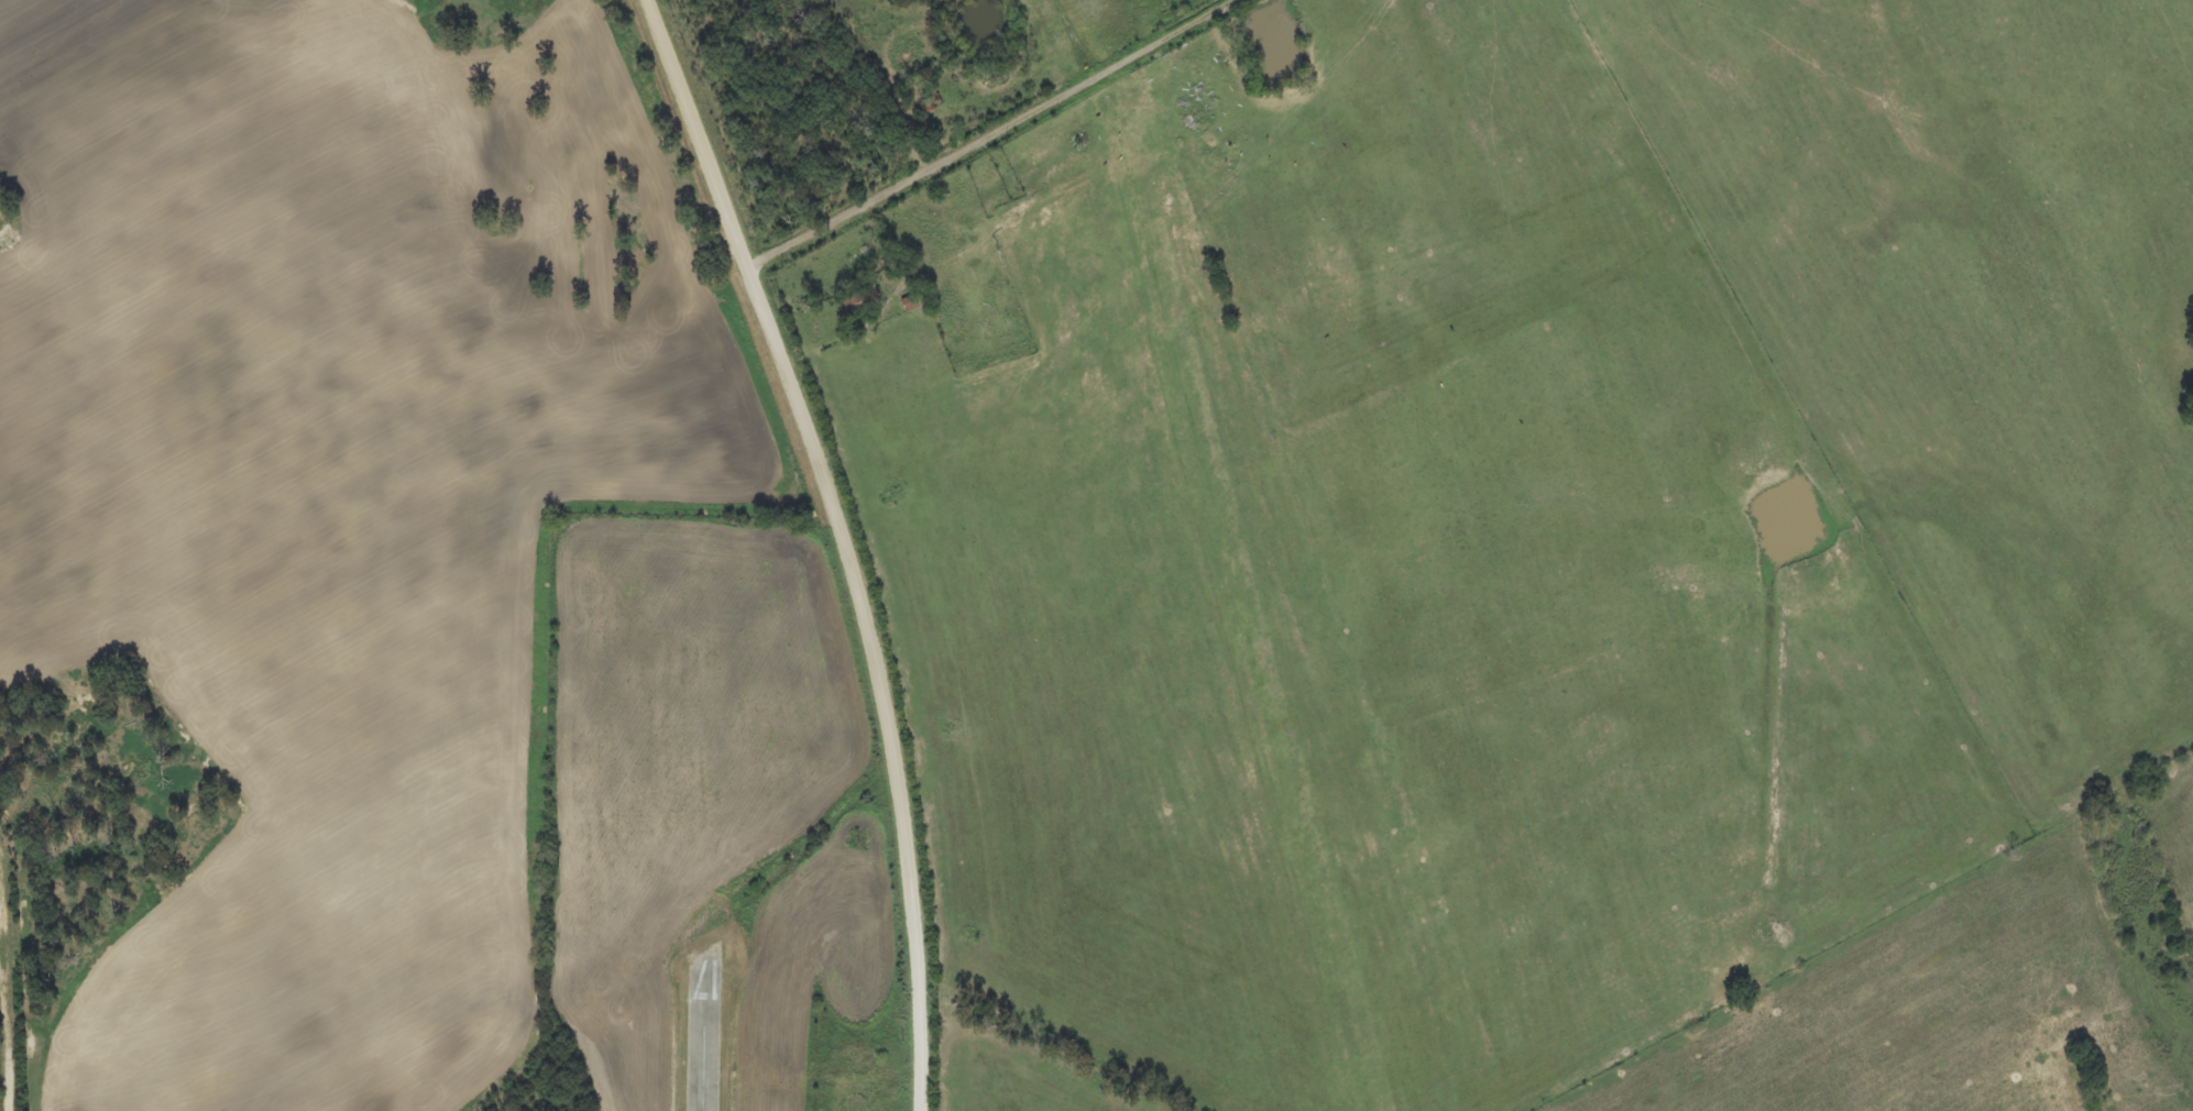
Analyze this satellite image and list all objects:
road: (1001, 135)
road: (849, 541)
road: (2, 972)
airport runway: (703, 1037)

